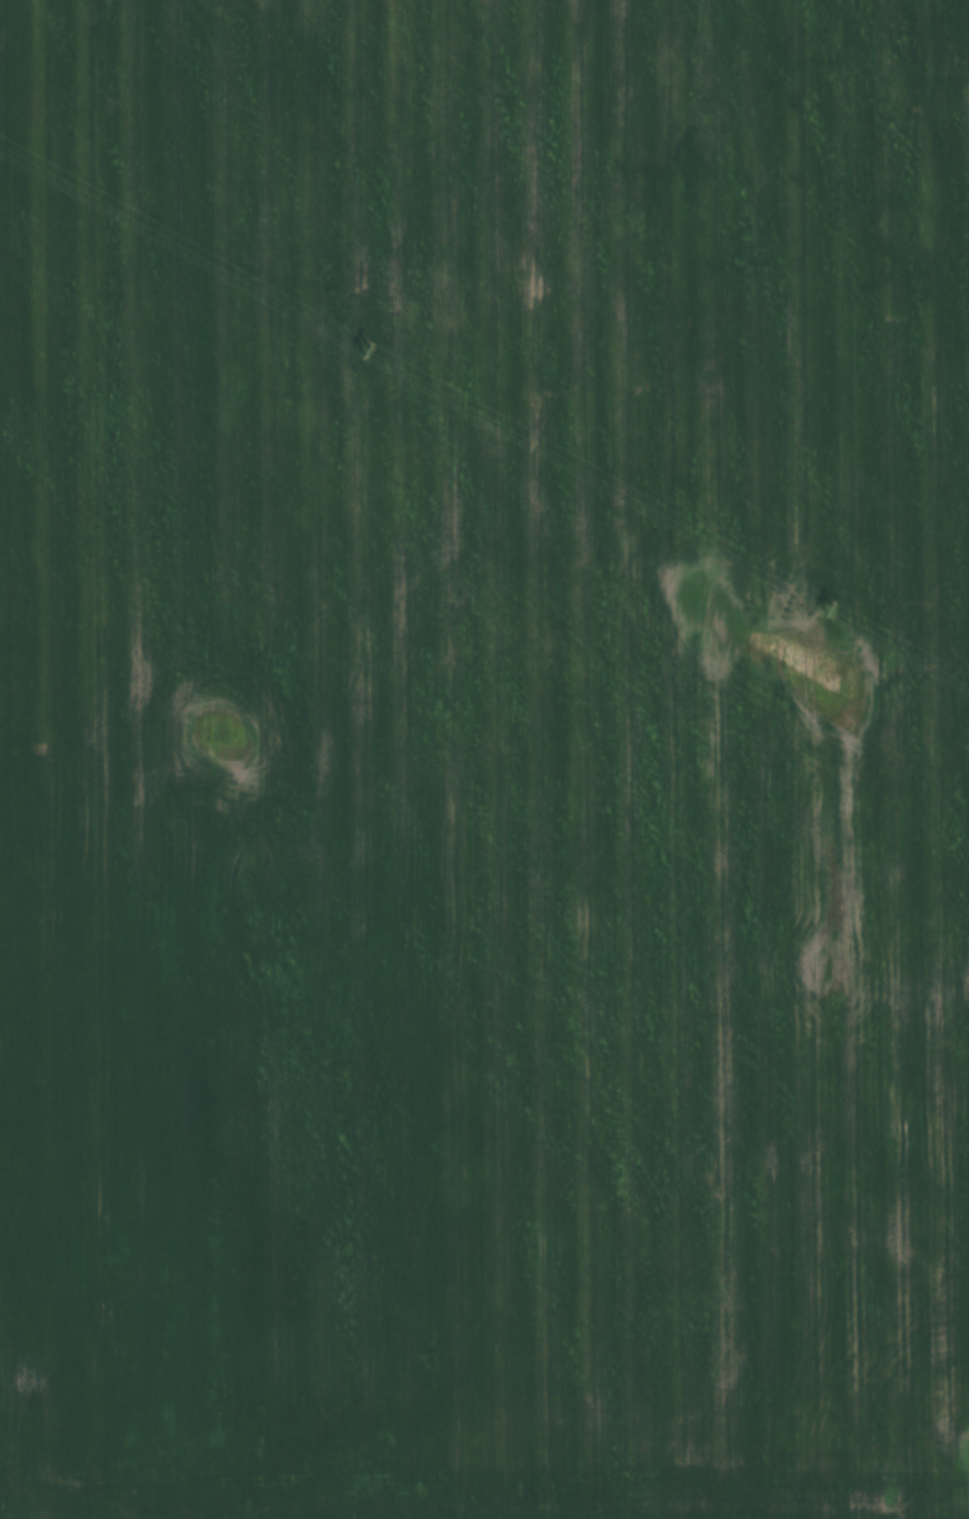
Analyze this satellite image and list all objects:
power tower: (367, 350)
power tower: (828, 609)

